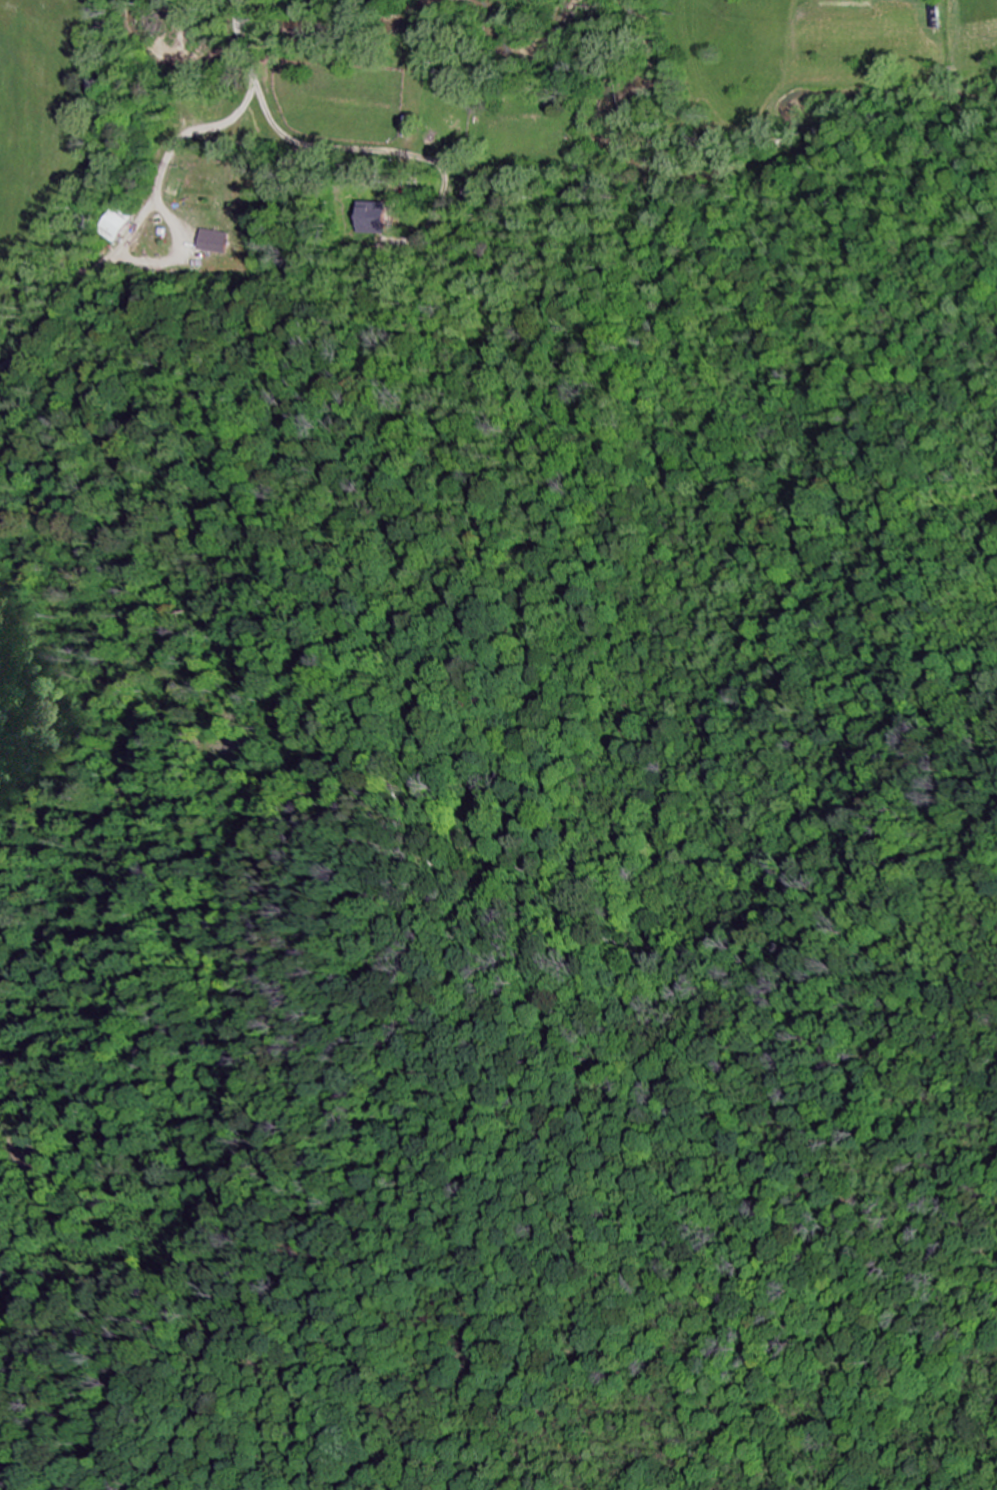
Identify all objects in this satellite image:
road: (64, 166)
building: (213, 242)
road: (63, 1385)

